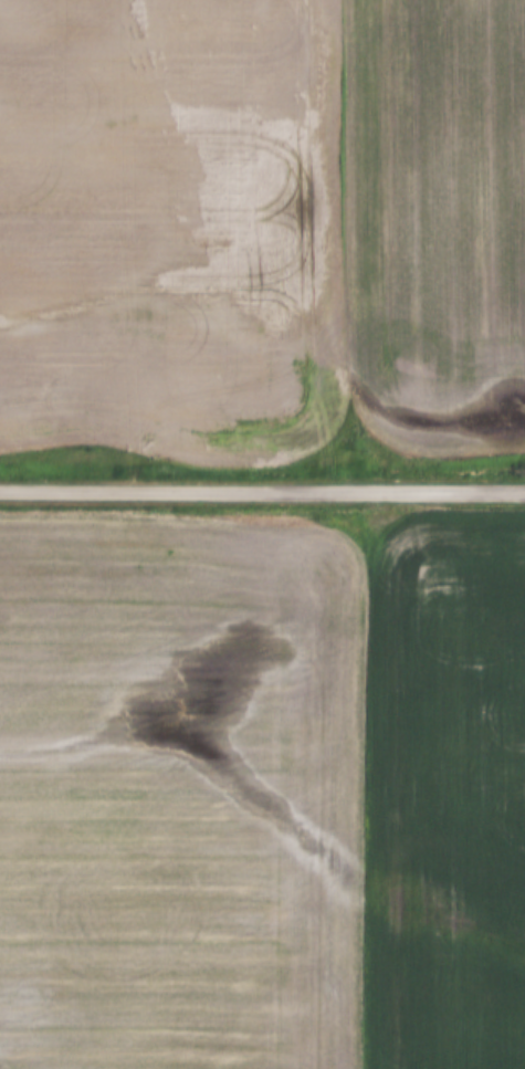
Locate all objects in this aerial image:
road: (262, 493)

